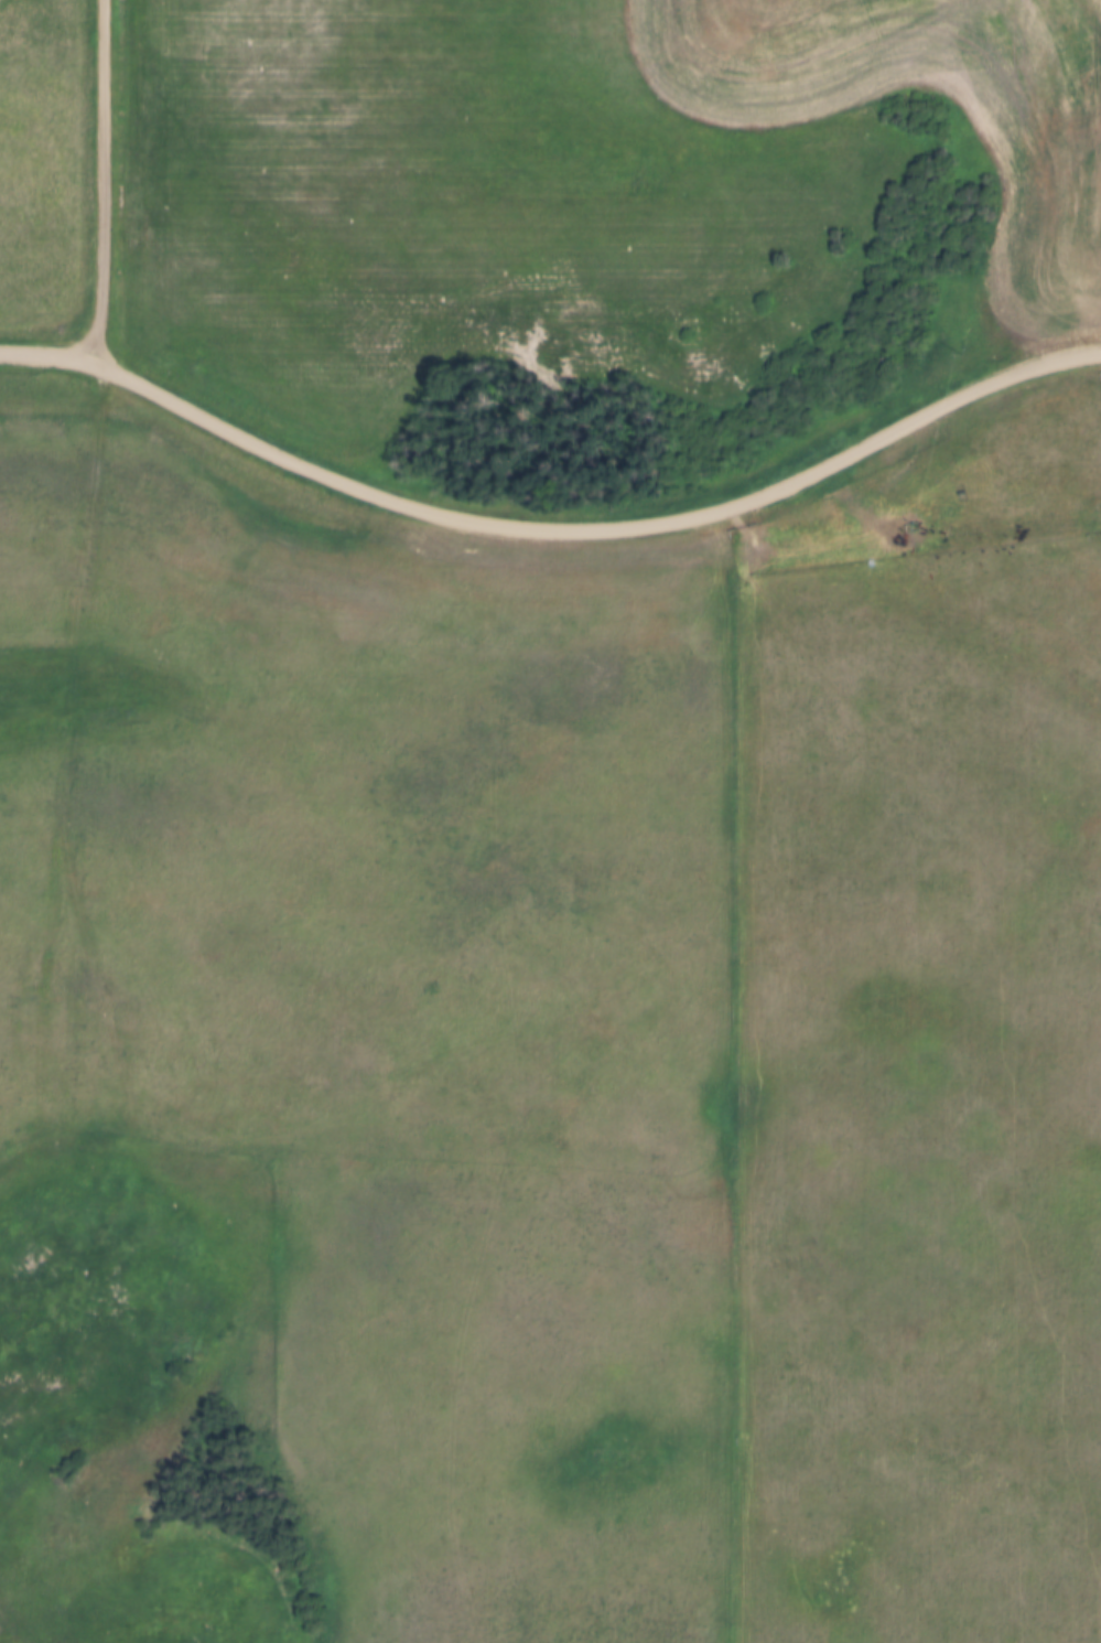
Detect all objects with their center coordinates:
road: (100, 181)
road: (550, 528)

